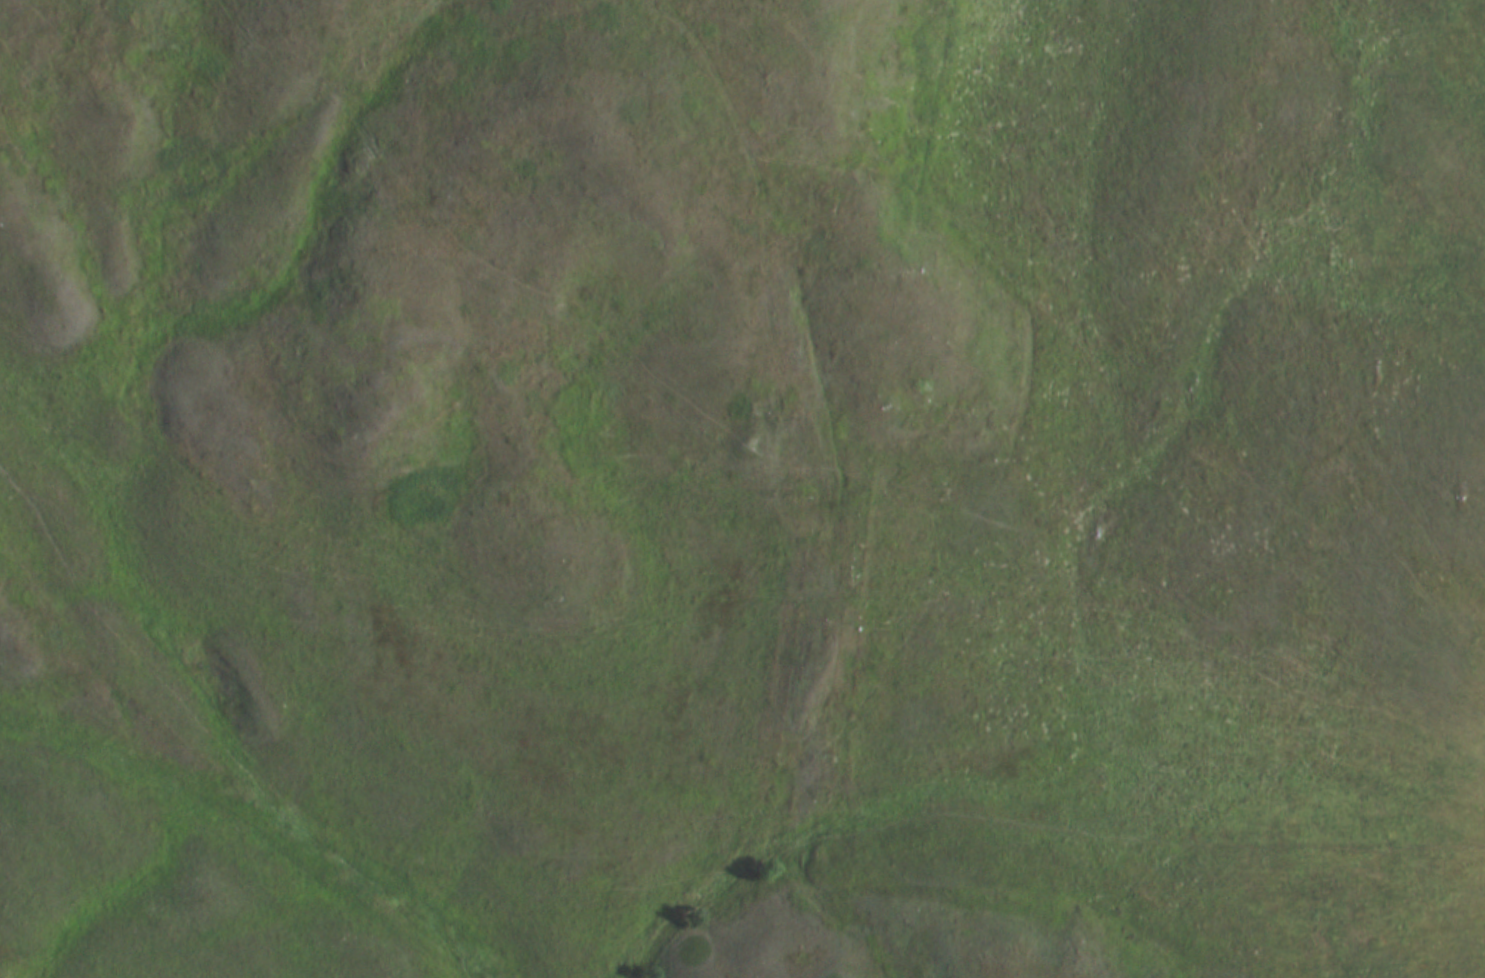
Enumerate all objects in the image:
road: (664, 732)

